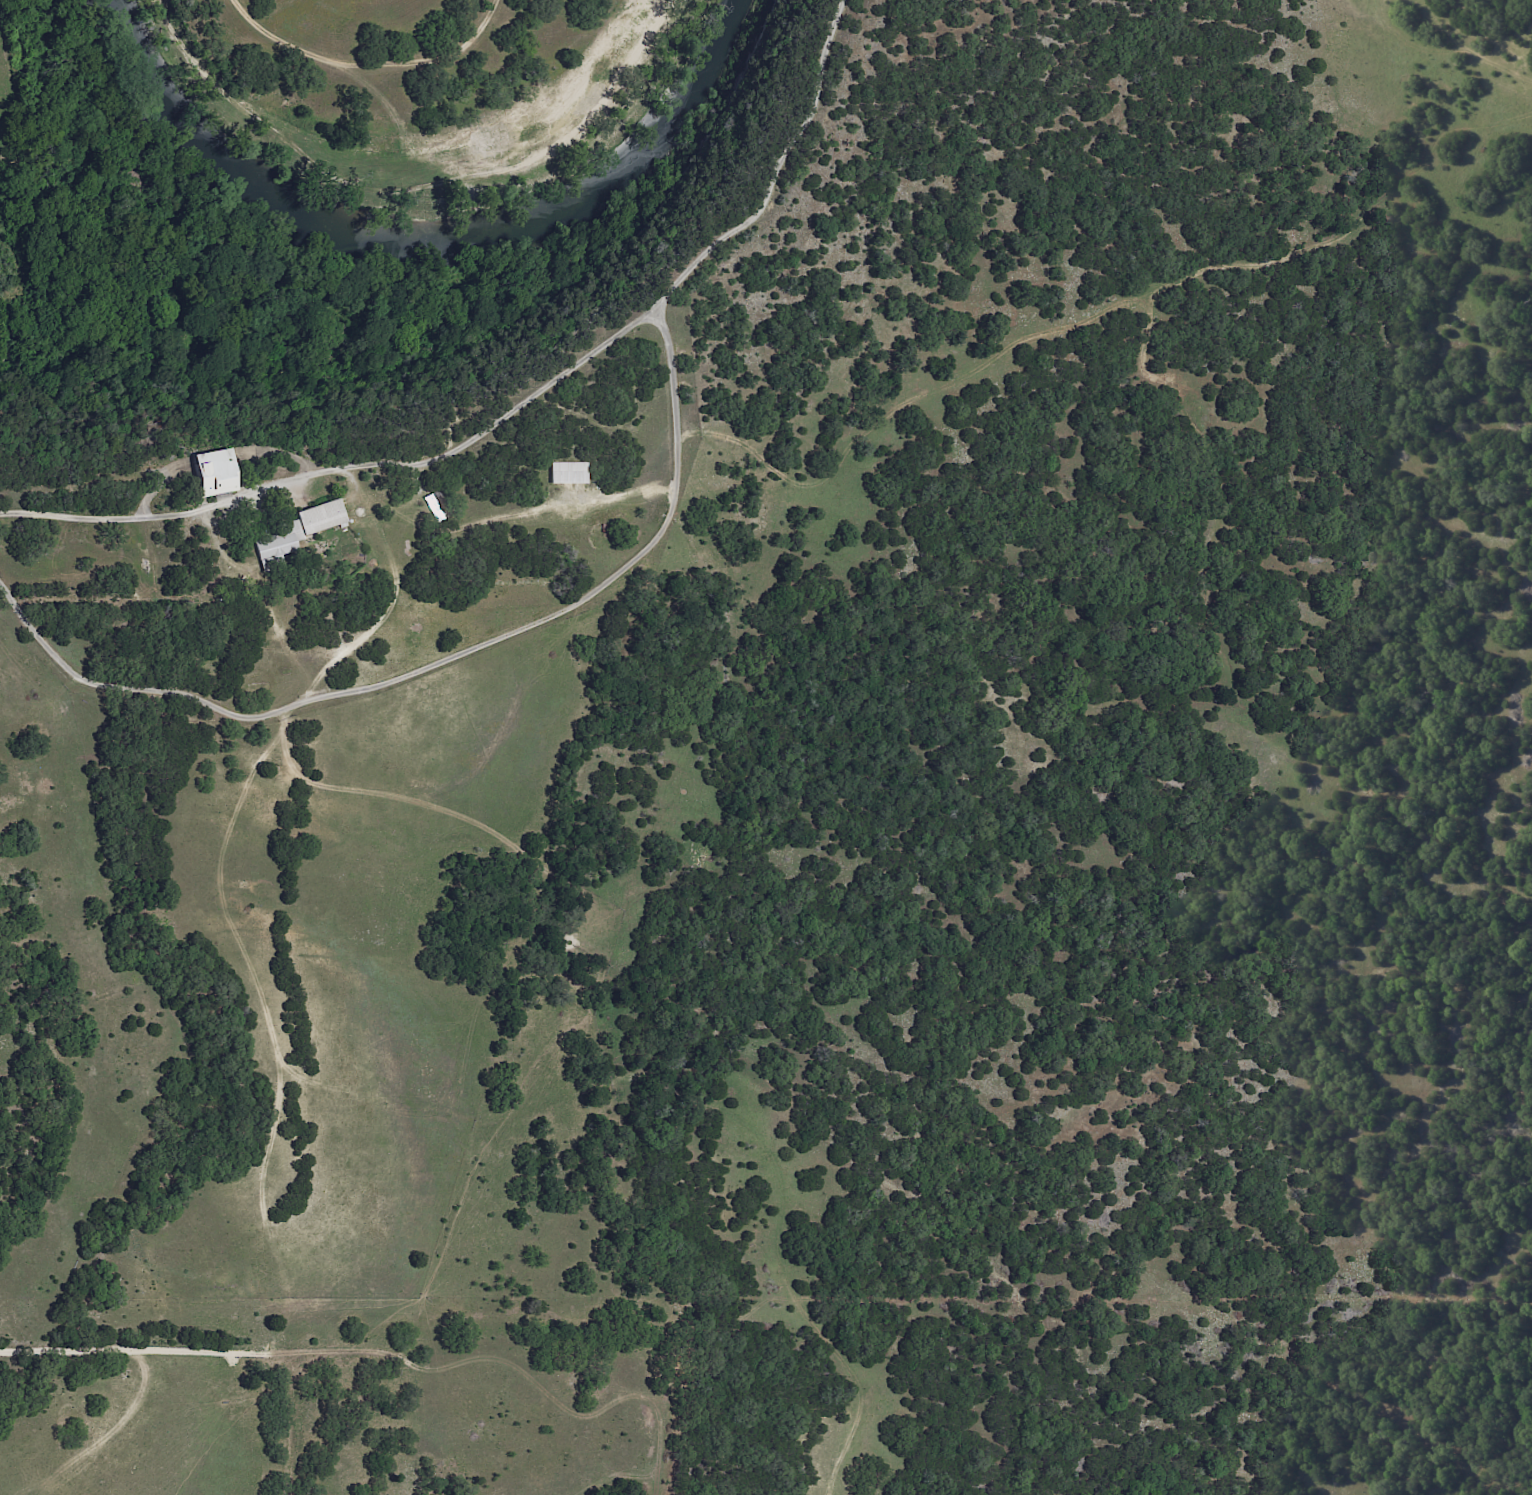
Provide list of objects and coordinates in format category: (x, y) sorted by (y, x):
road: (387, 455)
building: (295, 531)
road: (436, 661)

